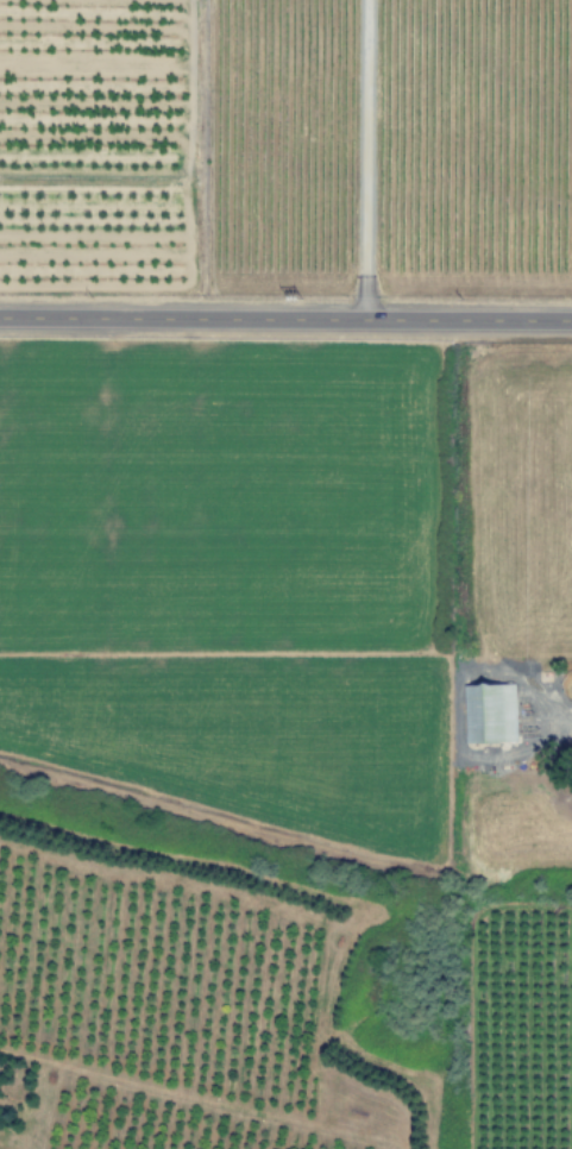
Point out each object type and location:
road: (285, 321)
building: (490, 714)
crop: (260, 741)

